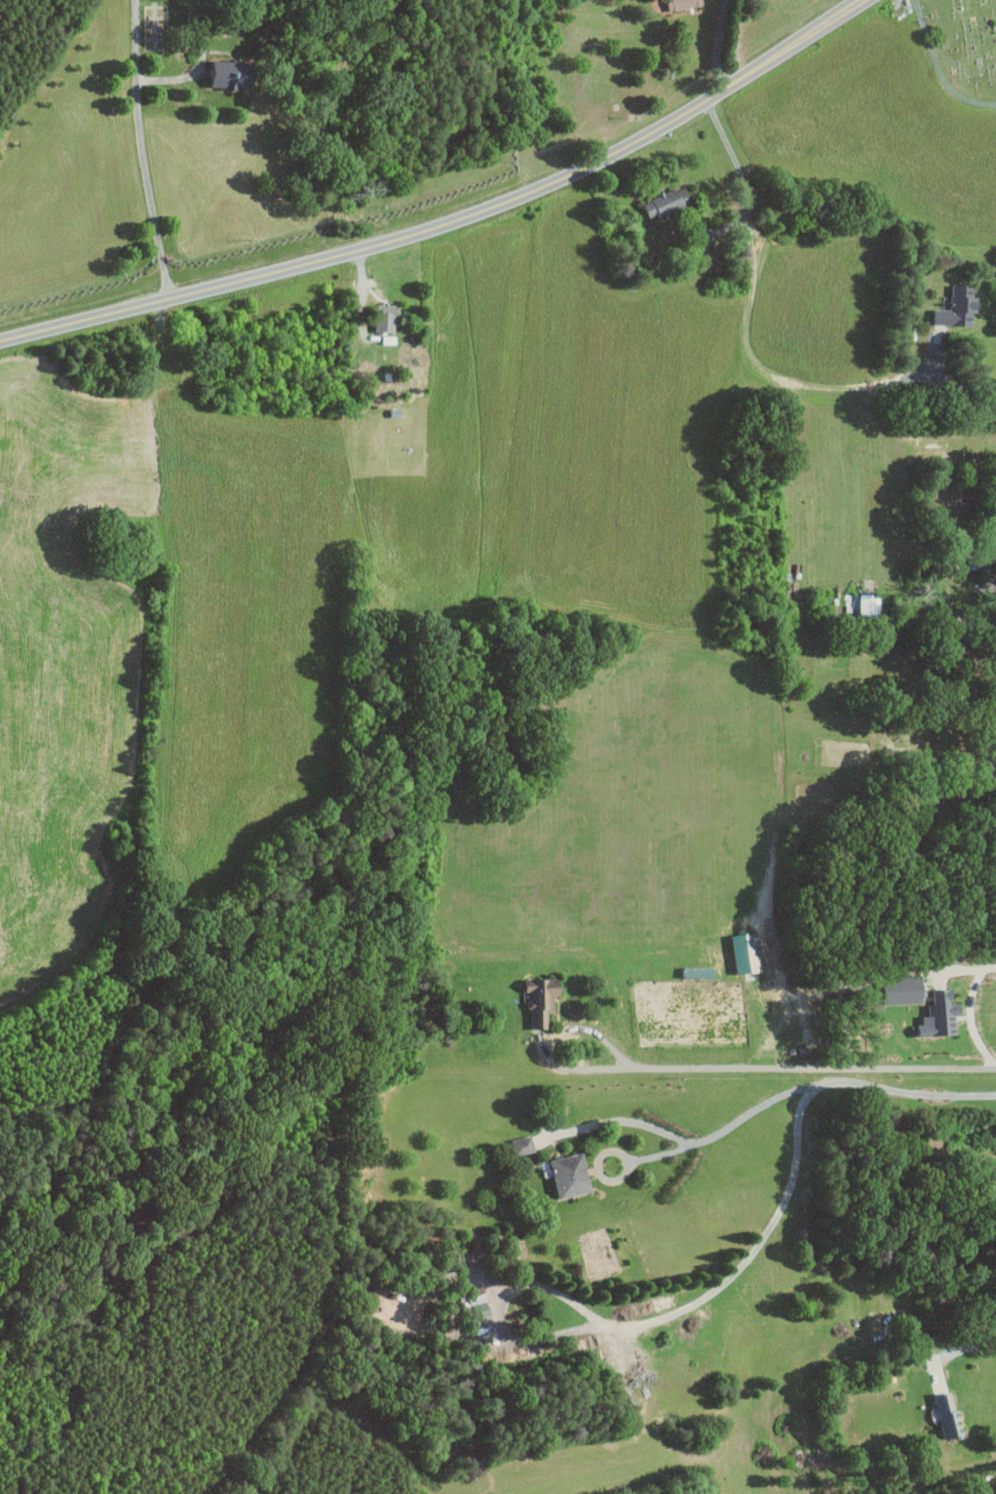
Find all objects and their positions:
building: (683, 4)
road: (718, 43)
building: (234, 75)
road: (141, 150)
road: (738, 170)
building: (668, 202)
road: (451, 221)
building: (960, 308)
building: (387, 320)
building: (390, 340)
road: (769, 369)
road: (949, 383)
road: (992, 570)
building: (989, 732)
road: (995, 762)
building: (740, 952)
building: (893, 989)
building: (538, 998)
road: (968, 1012)
building: (934, 1015)
road: (549, 1043)
road: (815, 1067)
road: (617, 1120)
road: (723, 1129)
building: (519, 1145)
road: (795, 1169)
building: (564, 1175)
building: (476, 1307)
road: (501, 1308)
road: (952, 1352)
building: (945, 1414)

